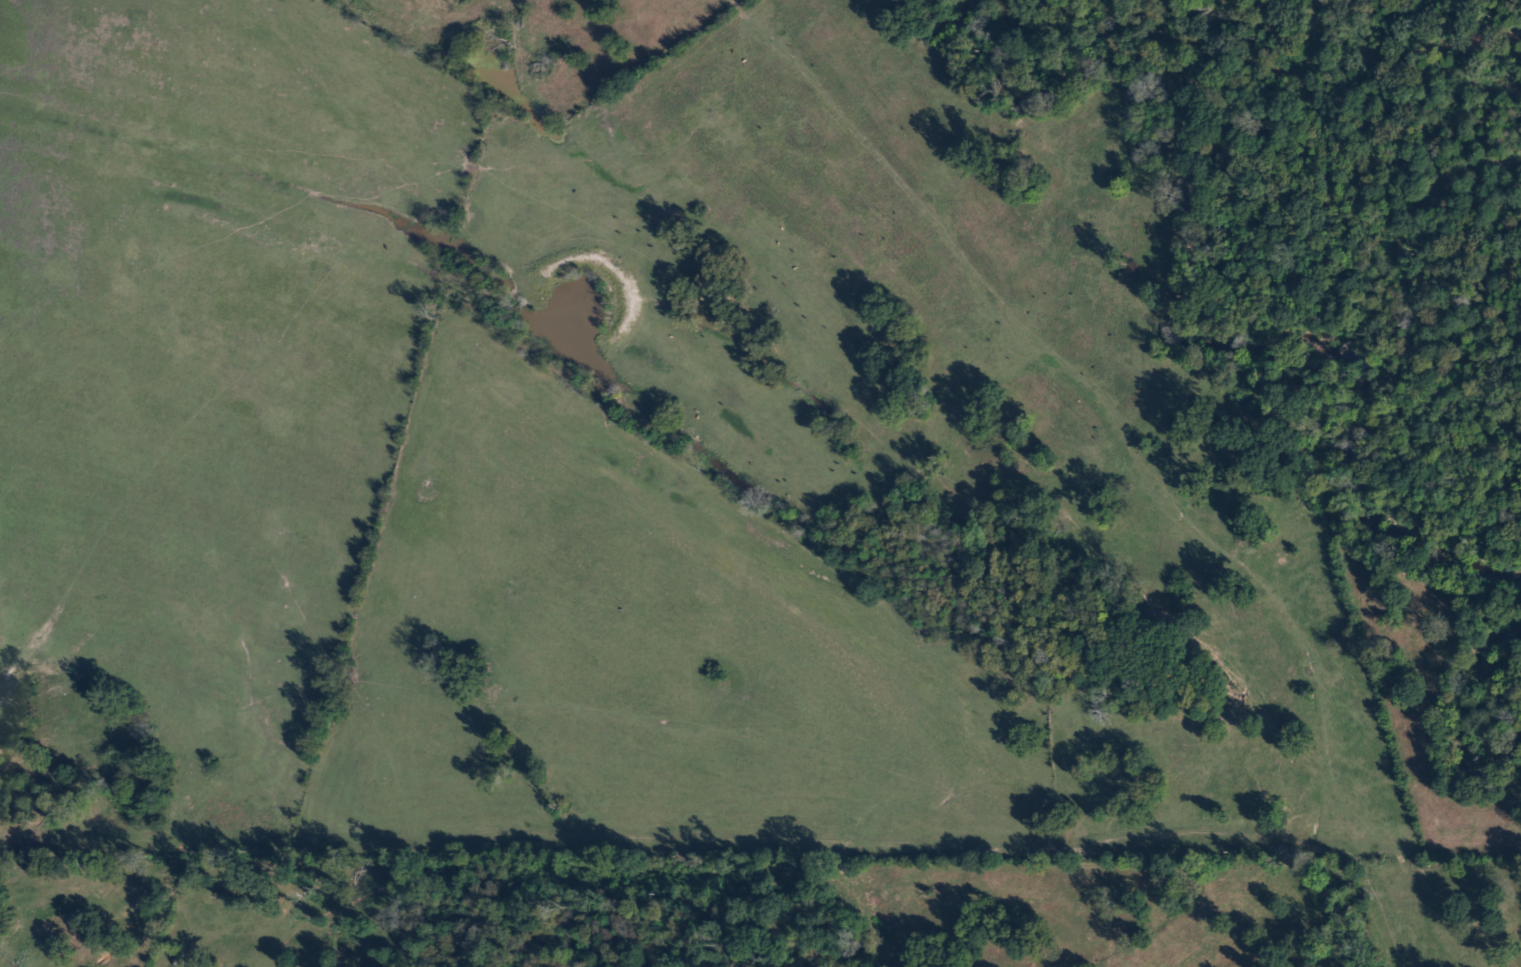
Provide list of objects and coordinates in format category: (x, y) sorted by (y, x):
road: (37, 734)

